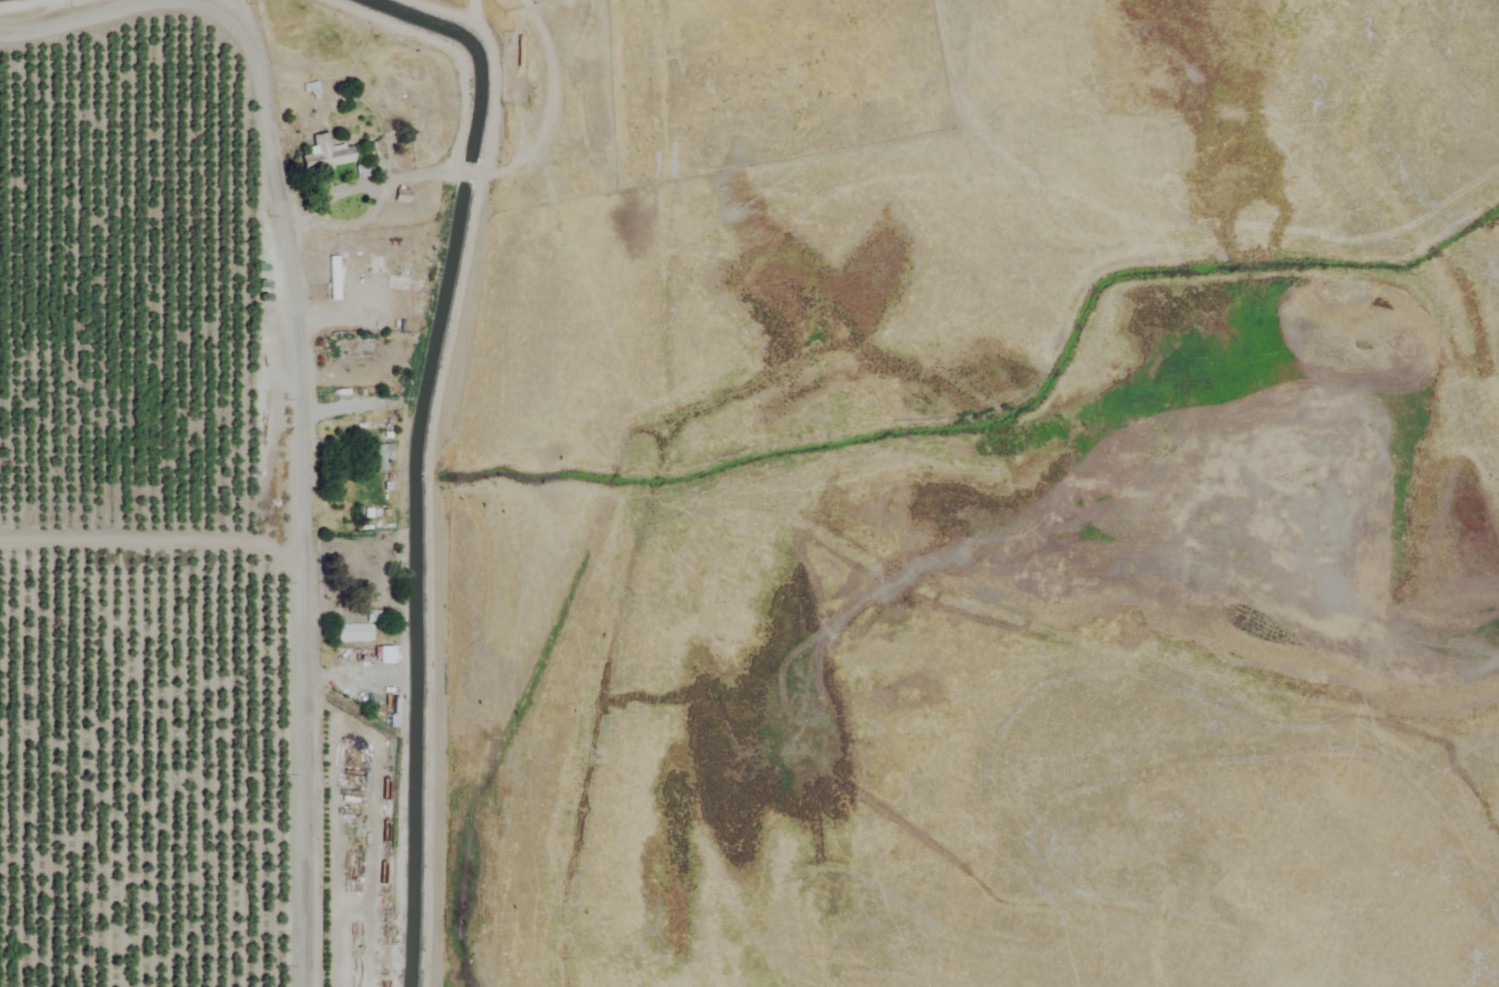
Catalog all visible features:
road: (79, 19)
building: (326, 153)
building: (401, 194)
road: (367, 212)
building: (331, 277)
building: (380, 455)
road: (299, 475)
crop: (146, 506)
building: (352, 630)
building: (385, 653)

